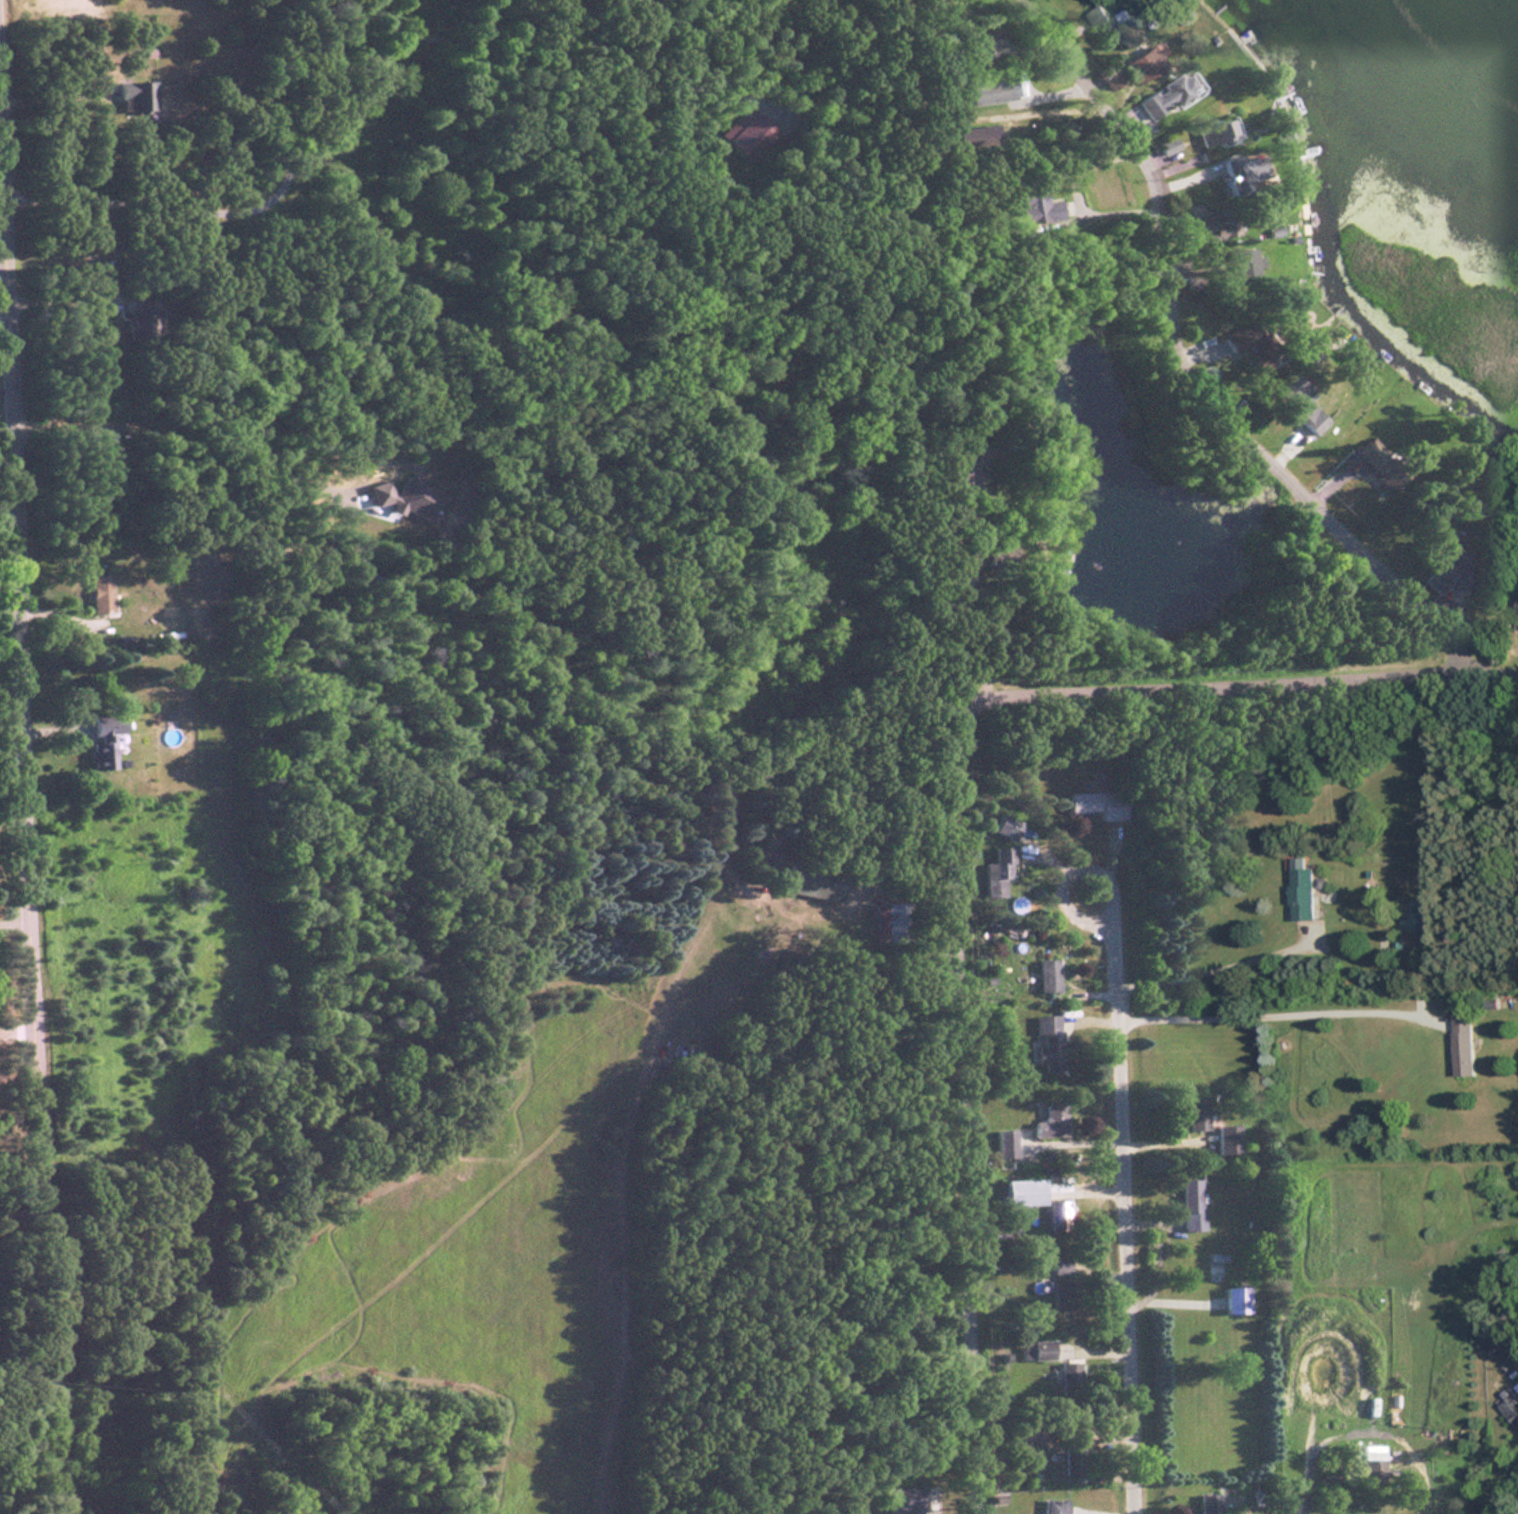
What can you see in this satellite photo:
building: (1112, 27)
building: (1140, 65)
building: (1106, 80)
building: (985, 91)
building: (133, 96)
building: (1160, 97)
road: (1052, 111)
building: (1208, 134)
building: (1032, 210)
building: (1214, 225)
road: (61, 297)
building: (138, 304)
building: (1249, 346)
road: (1193, 366)
building: (1297, 406)
building: (1374, 463)
building: (1450, 555)
building: (98, 594)
building: (1517, 615)
building: (102, 740)
building: (1096, 803)
road: (22, 804)
building: (1004, 826)
road: (950, 833)
building: (995, 871)
building: (810, 881)
building: (1300, 893)
building: (1411, 915)
road: (13, 920)
road: (1211, 972)
building: (1045, 976)
road: (1279, 1016)
road: (15, 1035)
building: (1047, 1043)
building: (1461, 1044)
building: (1196, 1113)
building: (1049, 1122)
building: (1227, 1140)
building: (1003, 1144)
road: (1127, 1178)
building: (1021, 1193)
building: (1190, 1205)
building: (1057, 1215)
building: (1060, 1295)
building: (1233, 1300)
building: (1034, 1350)
building: (1068, 1373)
building: (1510, 1409)
building: (1013, 1435)
building: (1072, 1461)
building: (1374, 1467)
road: (1508, 1487)
building: (1208, 1503)
building: (1050, 1506)

